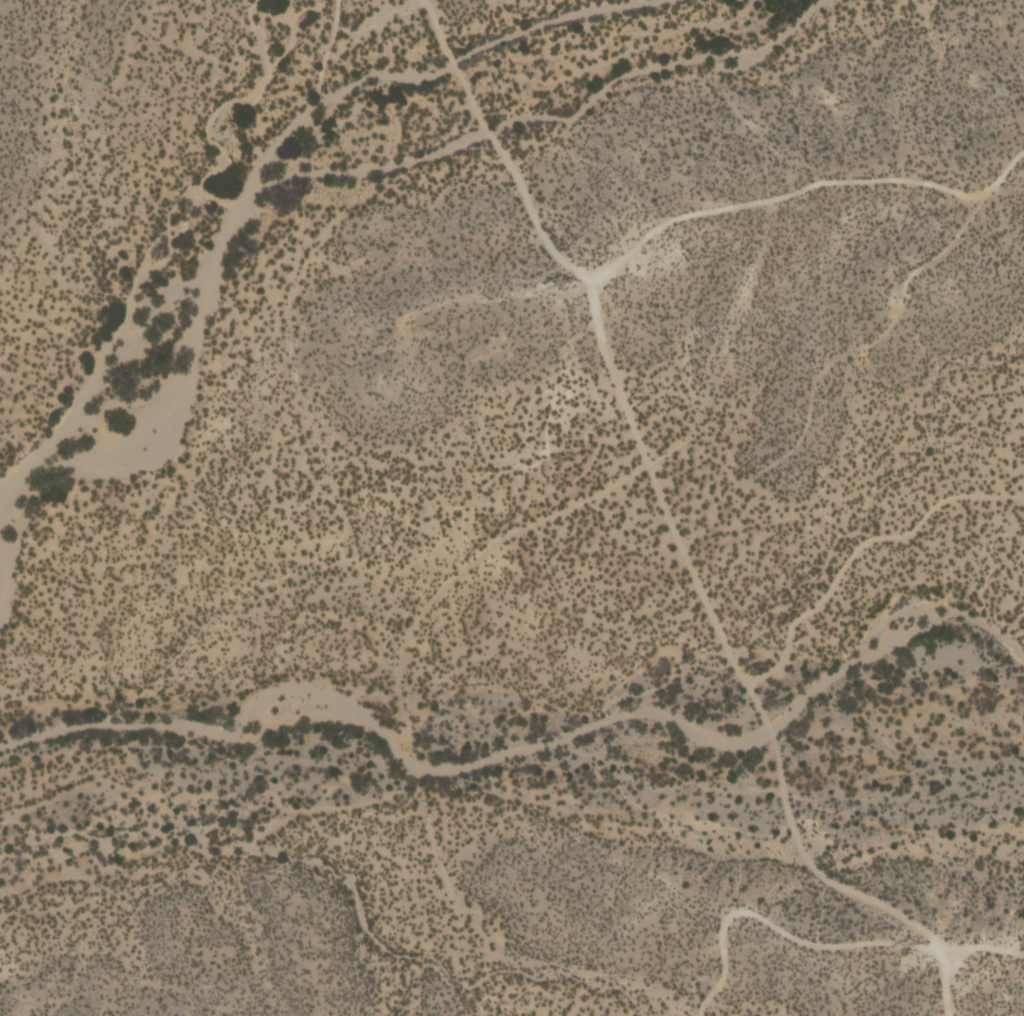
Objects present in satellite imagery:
power tower: (570, 283)
road: (606, 354)
road: (858, 546)
road: (844, 885)
road: (817, 942)
power tower: (918, 943)

